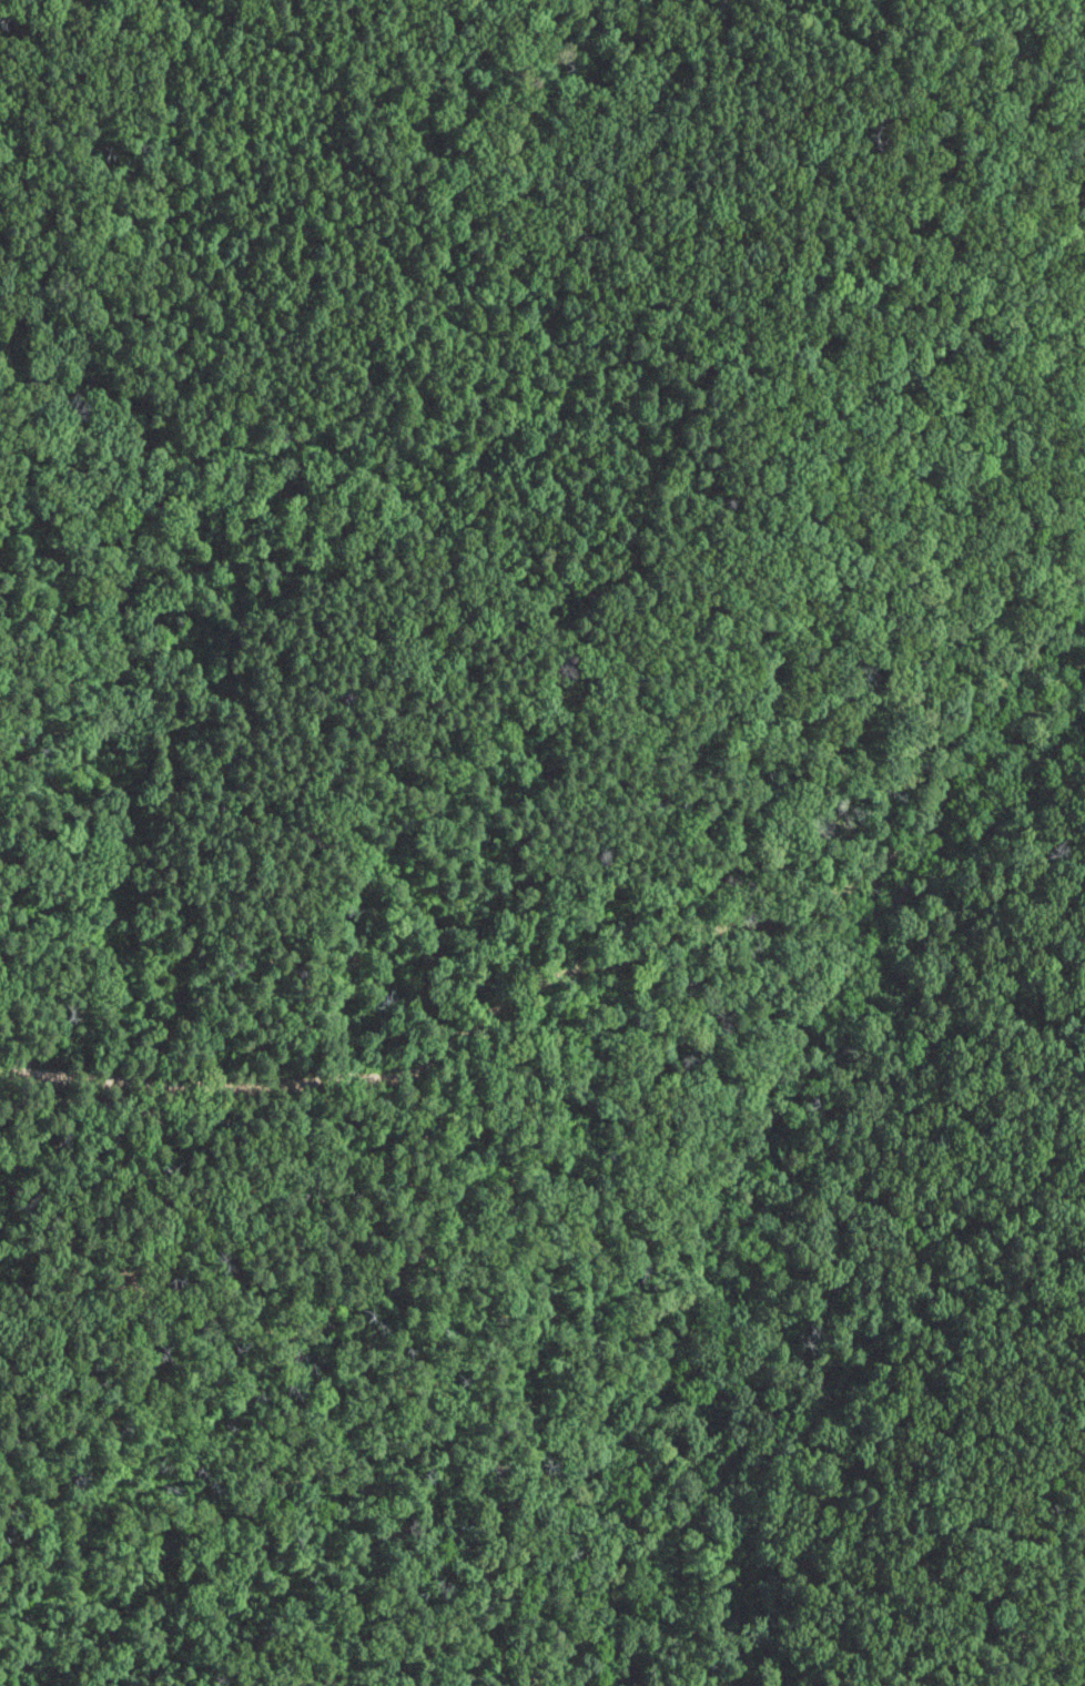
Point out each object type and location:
road: (579, 969)

